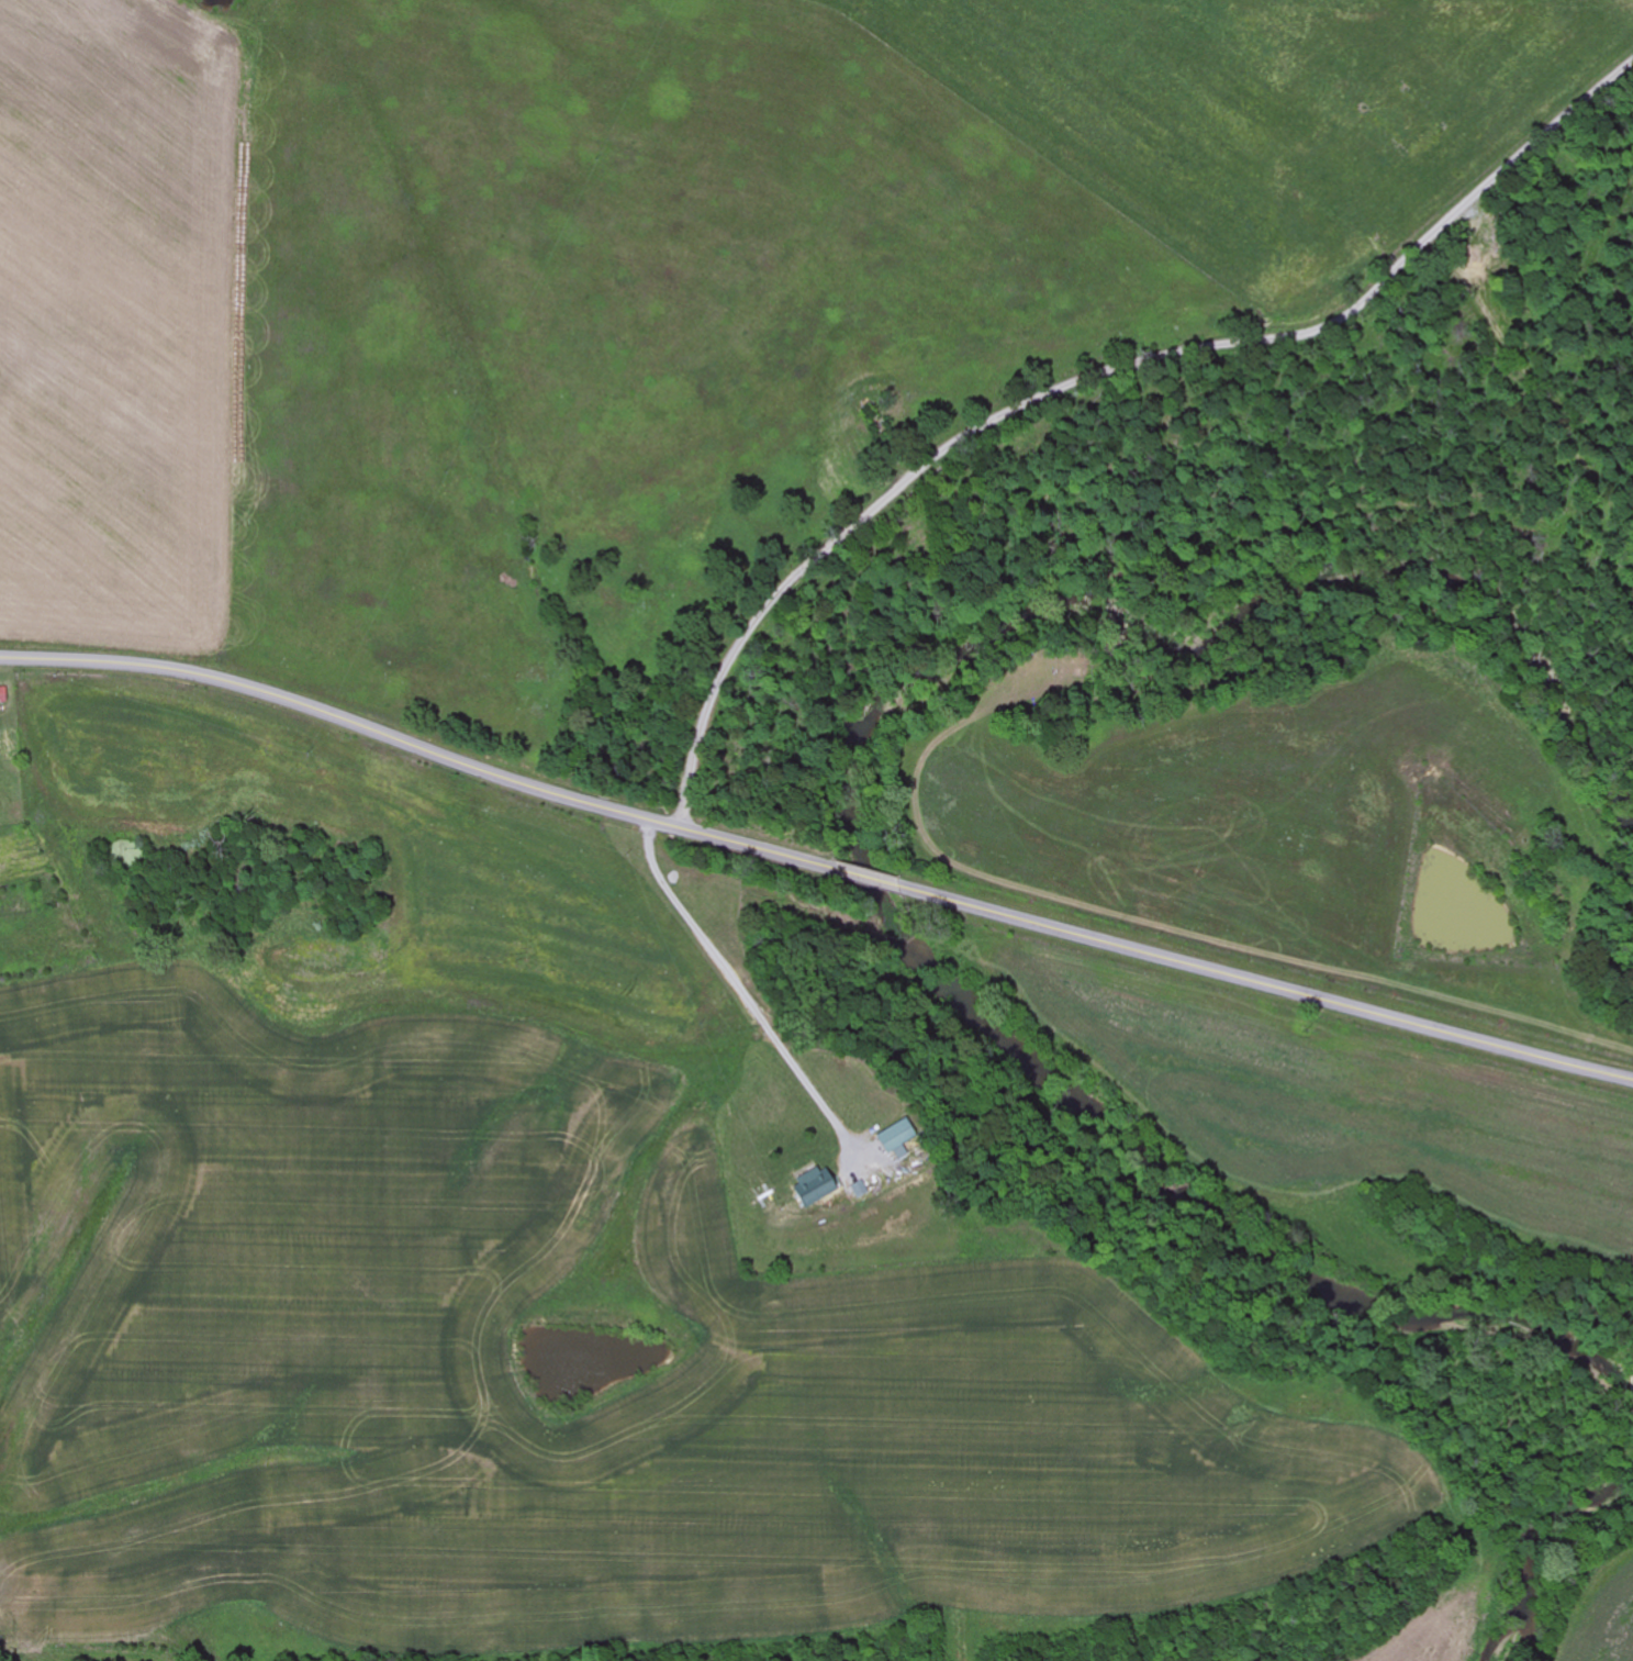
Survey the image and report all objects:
road: (1094, 381)
building: (3, 696)
road: (815, 863)
road: (700, 918)
building: (894, 1140)
building: (860, 1190)
building: (815, 1191)

